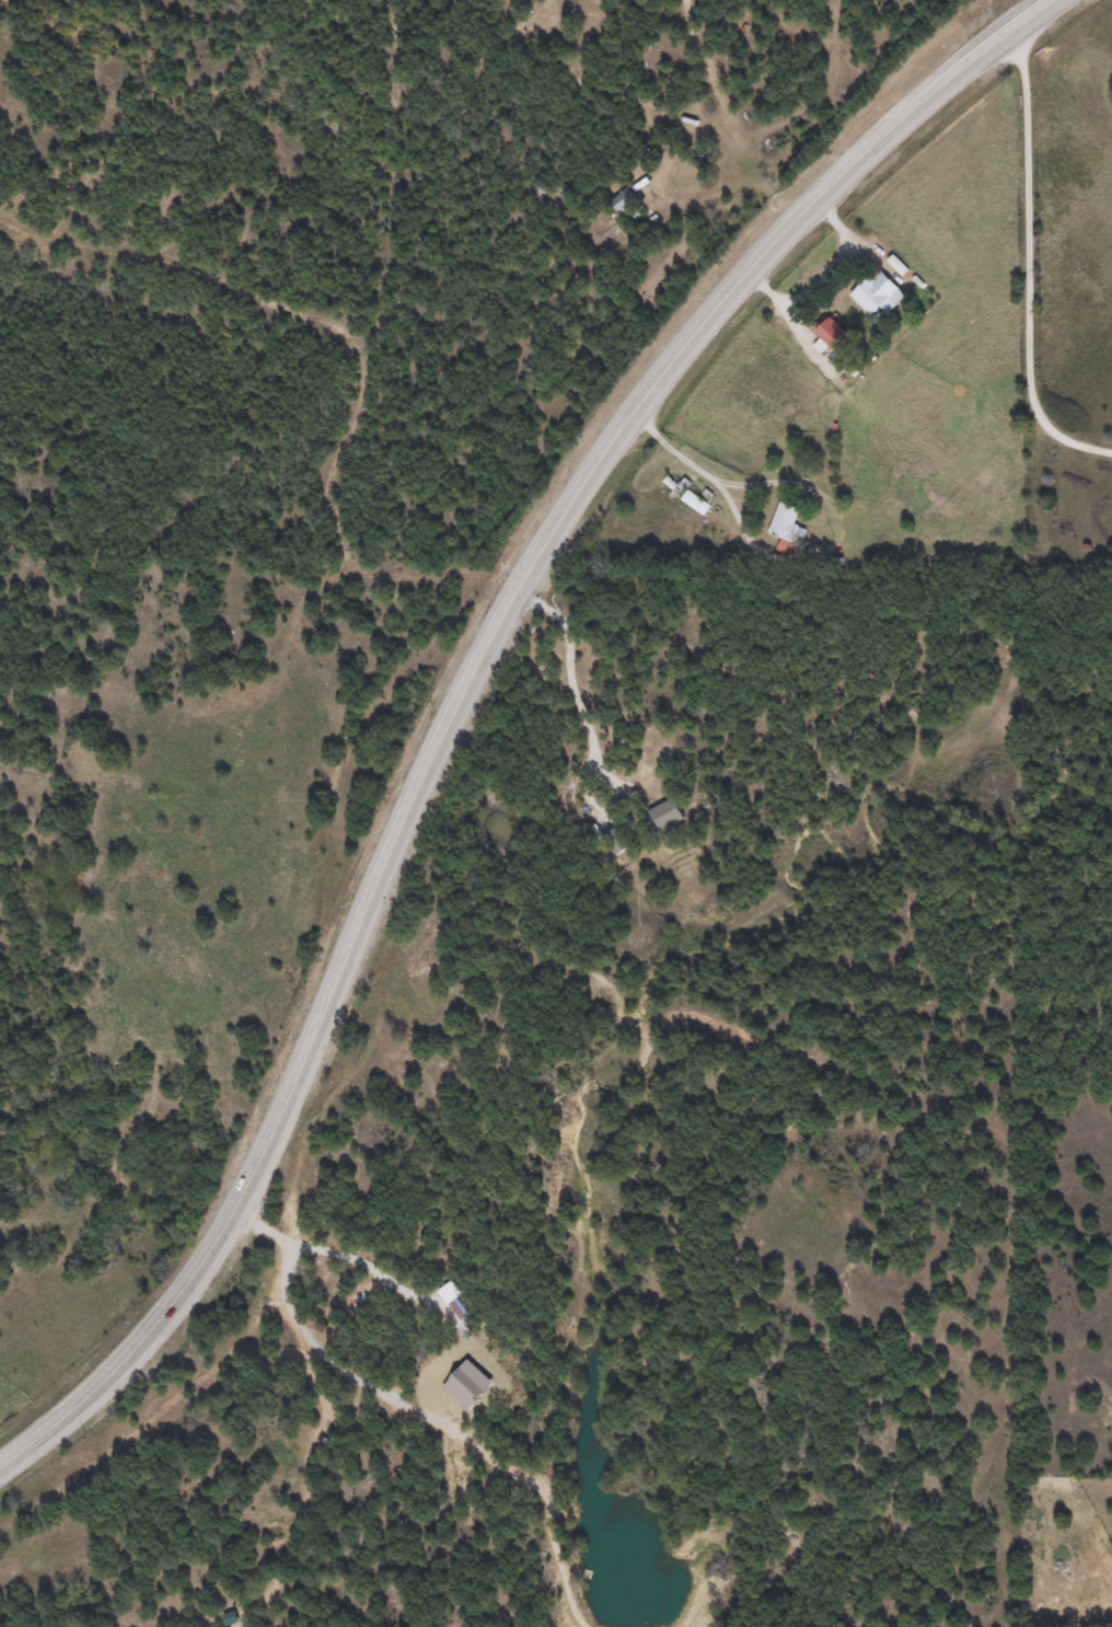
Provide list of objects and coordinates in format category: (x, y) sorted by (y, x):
building: (623, 200)
road: (1047, 236)
road: (820, 278)
building: (876, 293)
building: (830, 332)
road: (702, 476)
building: (696, 503)
building: (787, 524)
road: (579, 677)
road: (460, 692)
building: (664, 815)
building: (617, 840)

